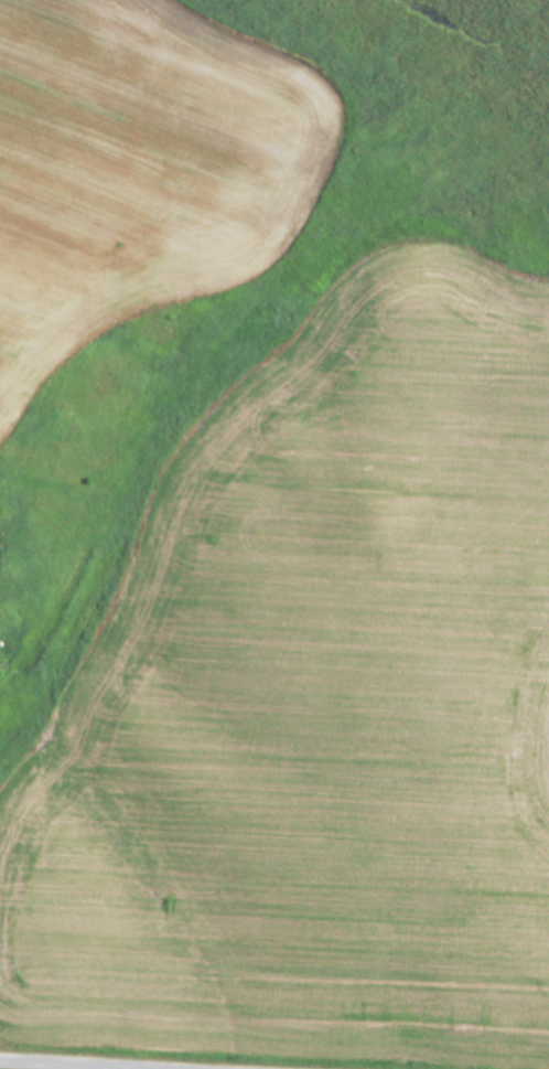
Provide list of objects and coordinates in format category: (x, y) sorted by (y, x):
road: (274, 1057)

